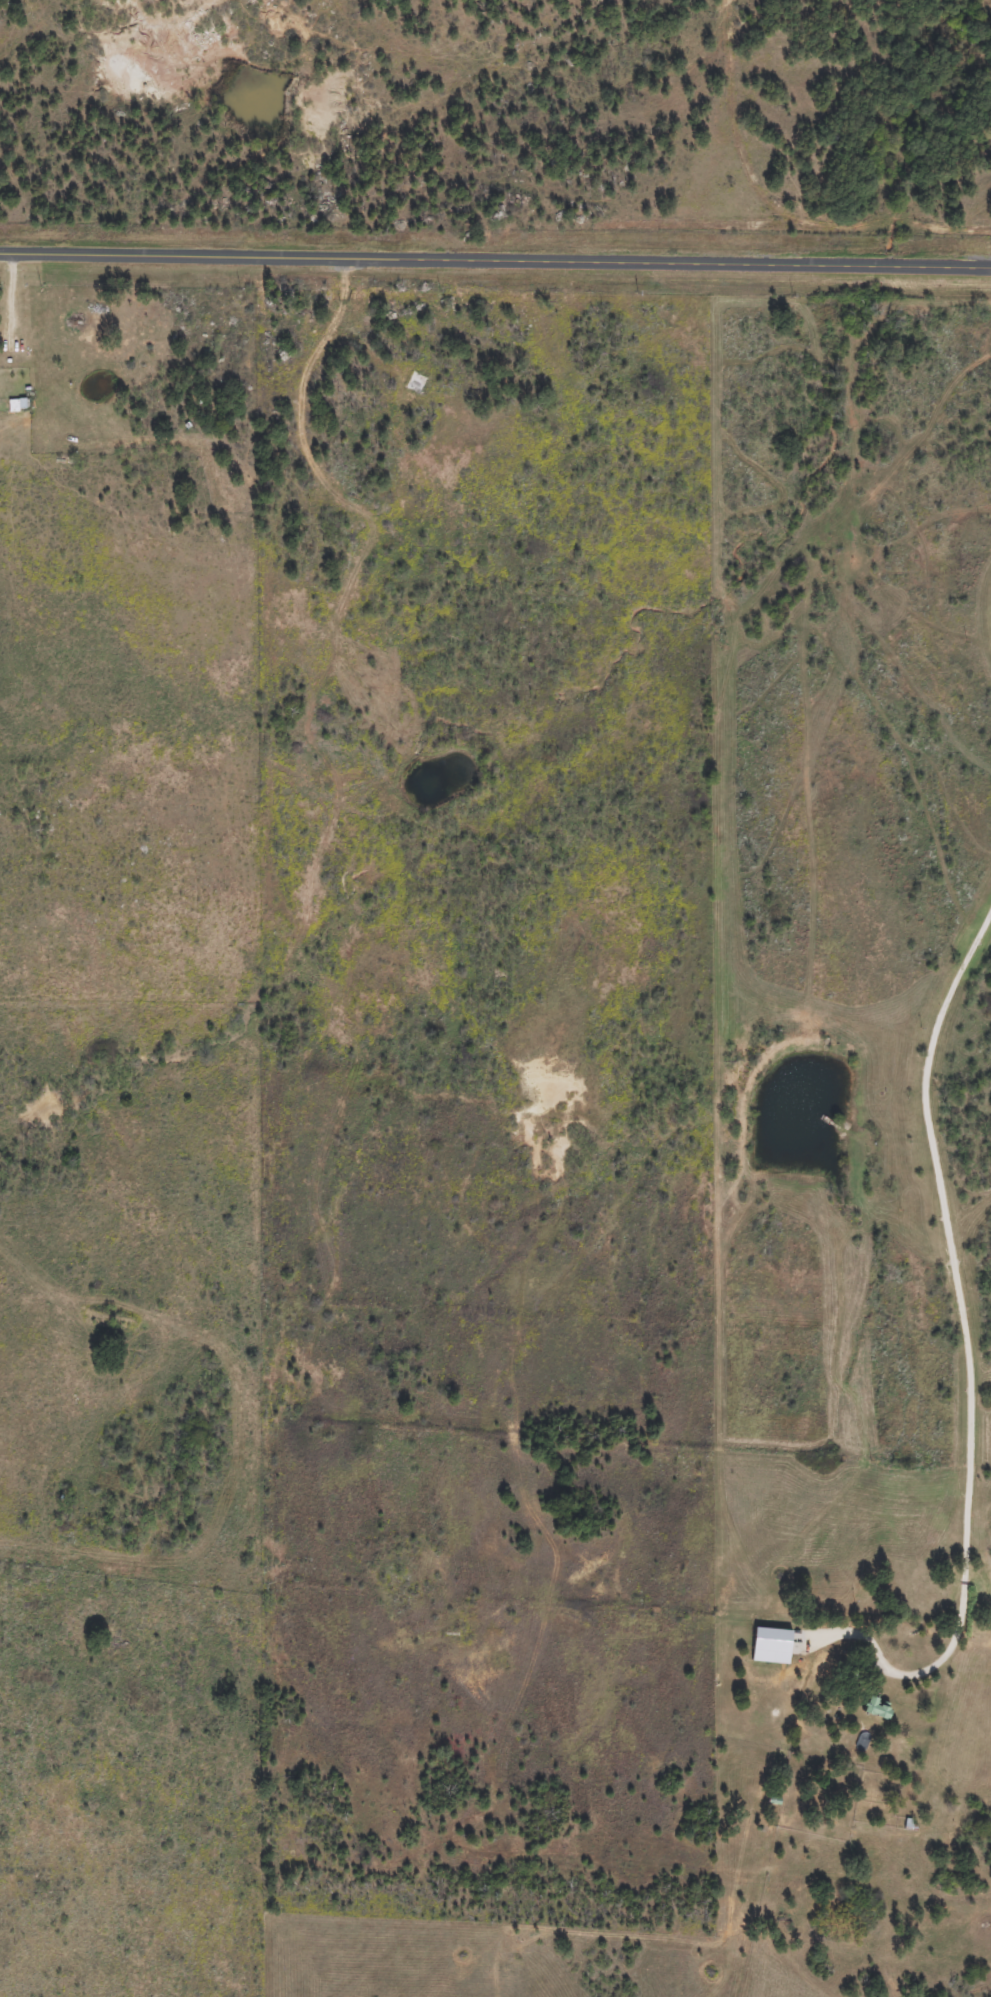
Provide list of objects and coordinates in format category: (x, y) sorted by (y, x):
road: (495, 259)
building: (774, 1645)
building: (880, 1708)

